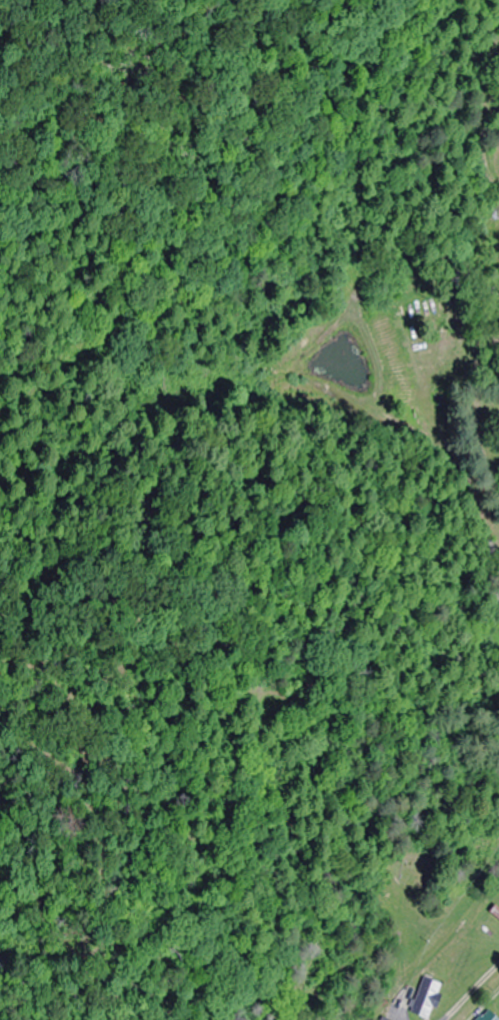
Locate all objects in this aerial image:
road: (429, 801)
building: (494, 913)
building: (422, 999)
building: (485, 1016)

